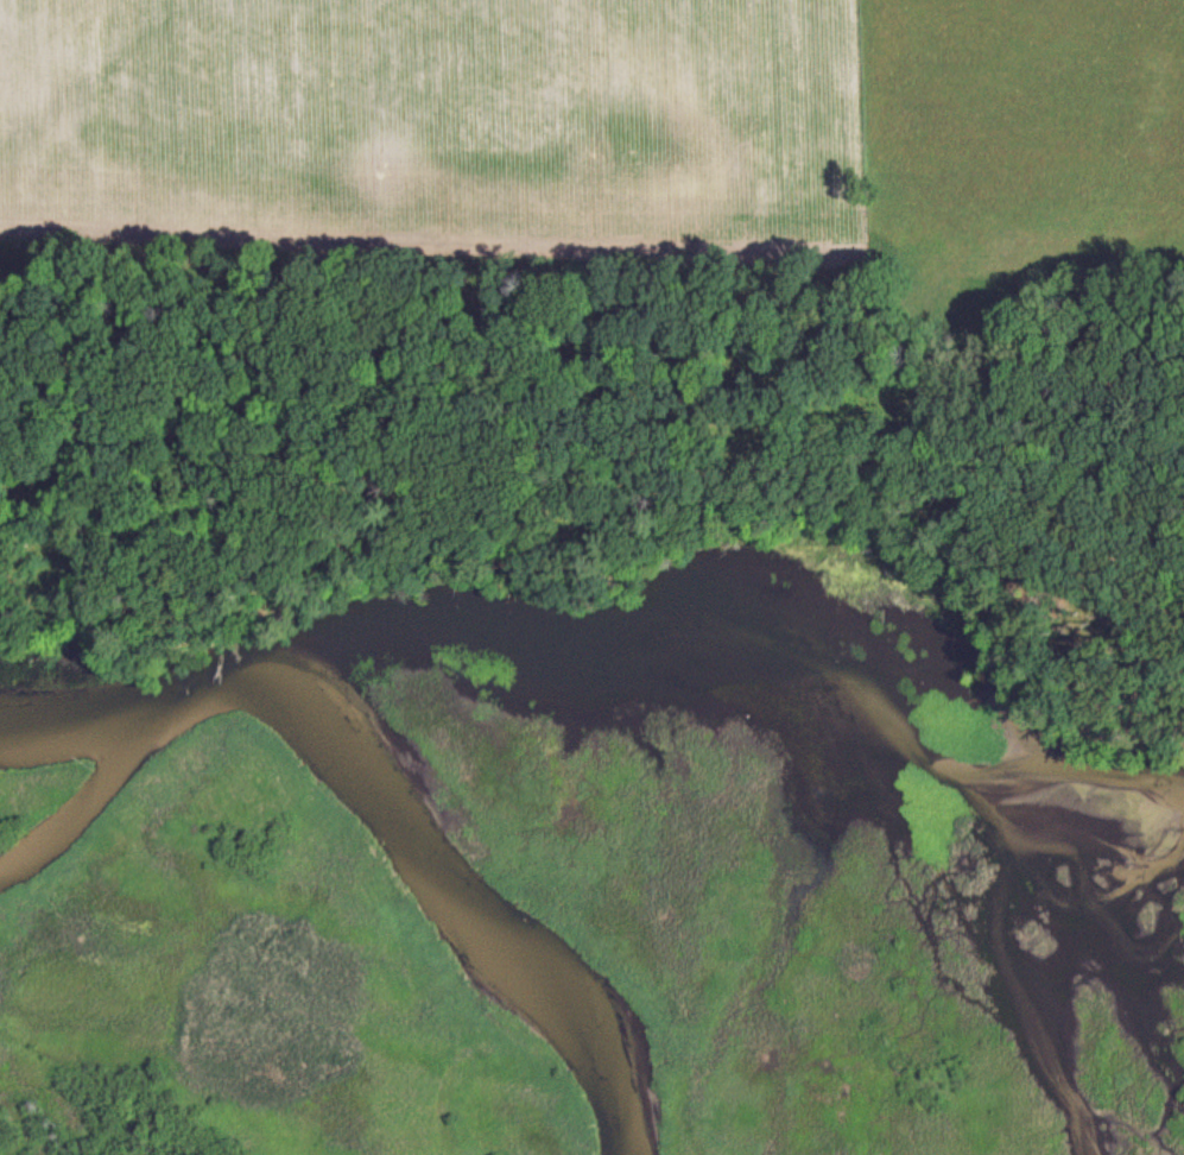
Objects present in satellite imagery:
river: (384, 802)

